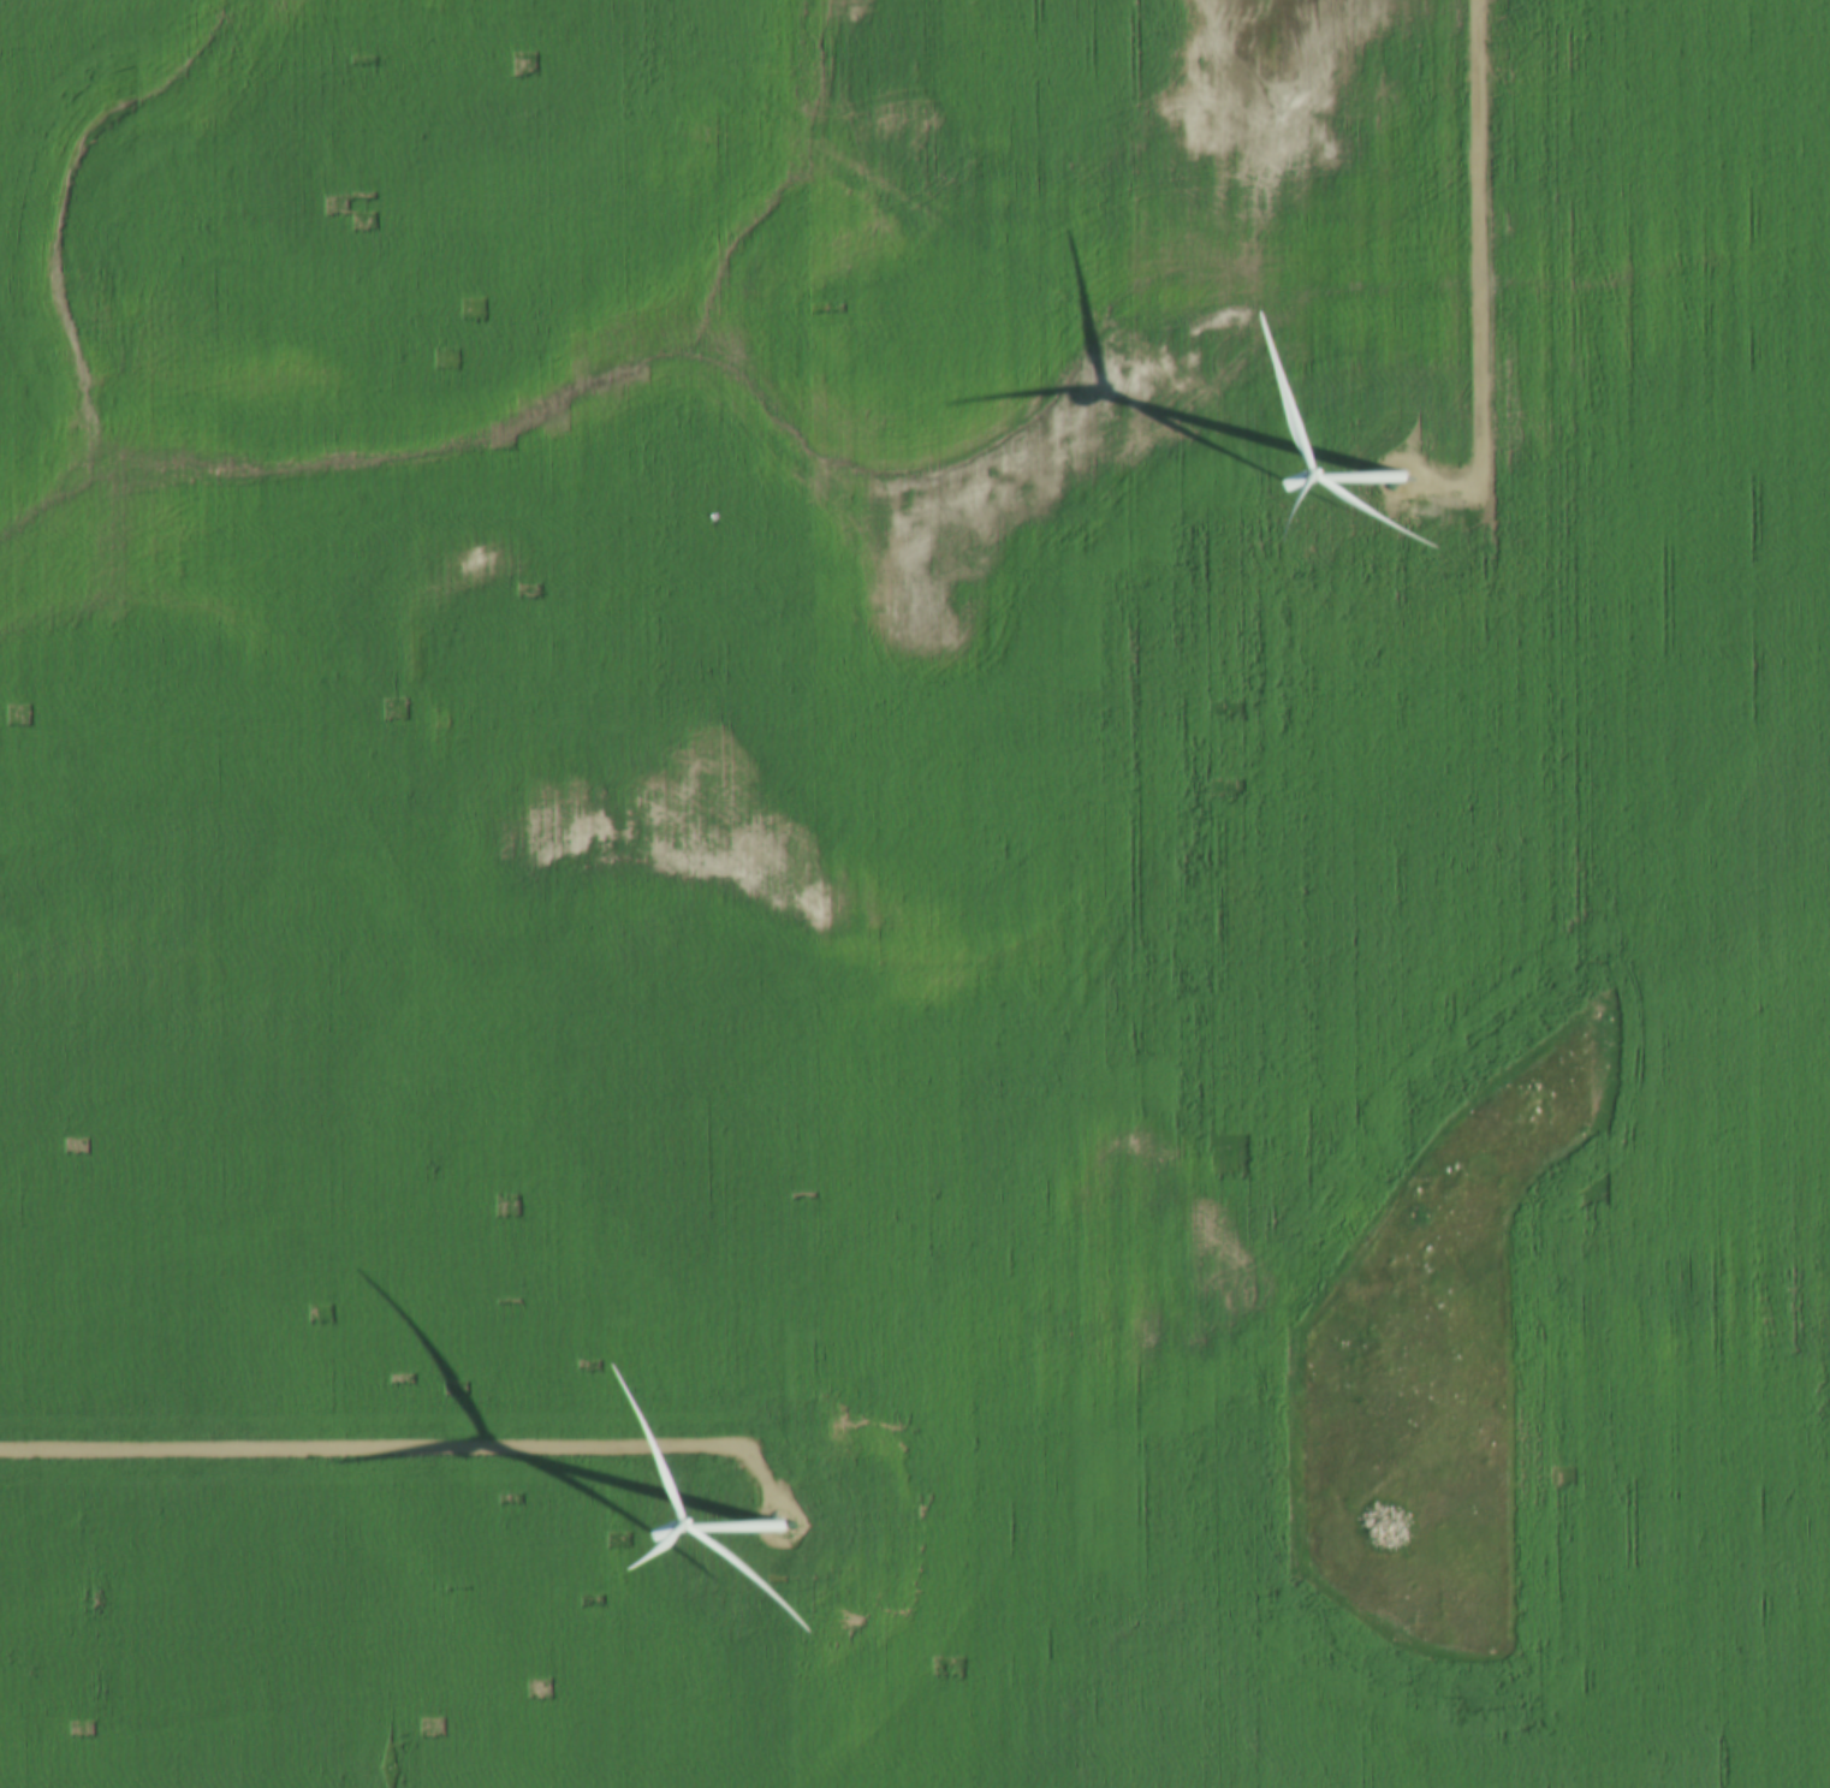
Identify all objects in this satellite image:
wind turbine: (1407, 485)
wind turbine: (777, 1519)

